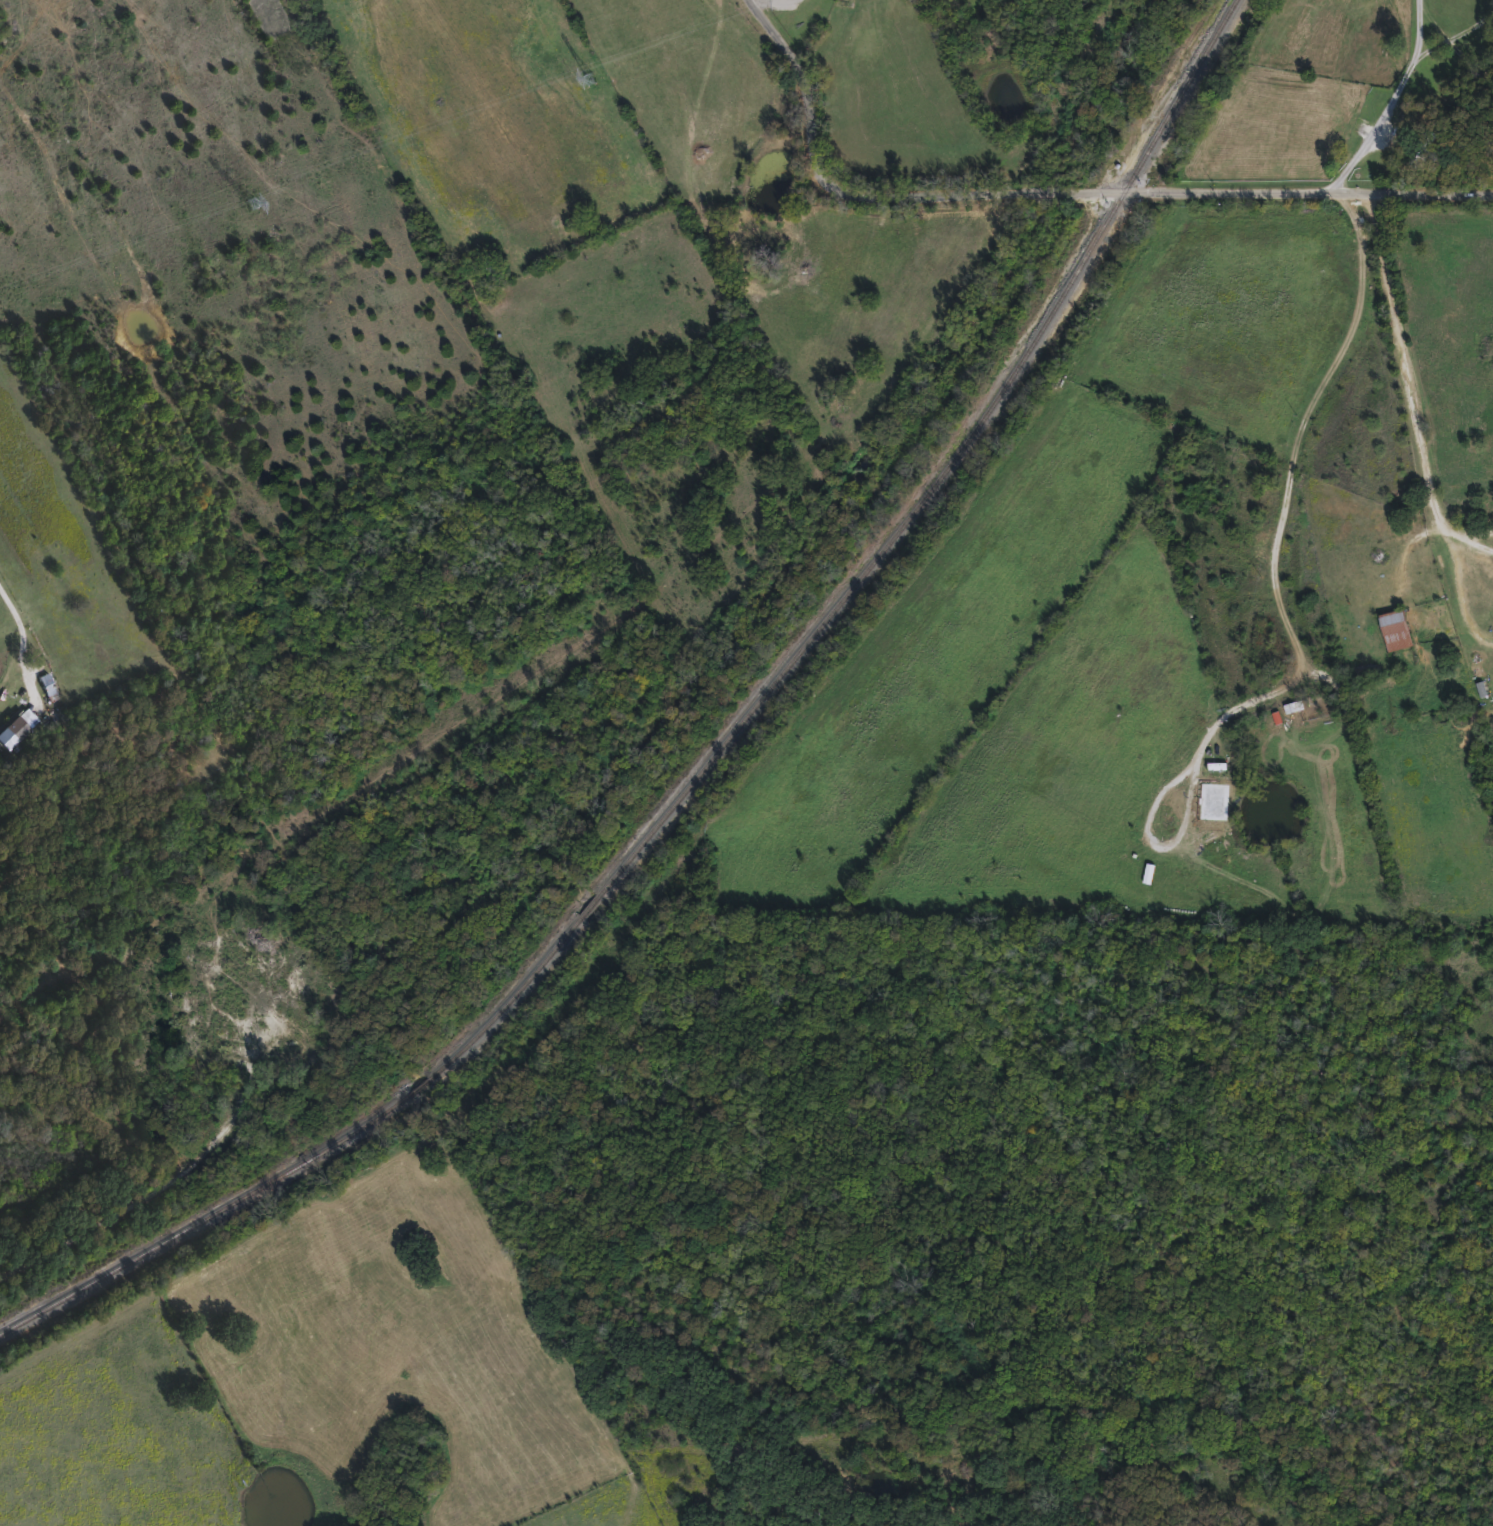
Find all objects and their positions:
road: (785, 0)
road: (1455, 33)
power tower: (589, 78)
road: (811, 90)
road: (1393, 101)
building: (1420, 147)
road: (1167, 192)
power tower: (250, 203)
road: (832, 207)
road: (1406, 362)
railway: (1016, 369)
building: (1268, 496)
road: (1486, 536)
road: (1454, 569)
road: (1282, 600)
building: (1395, 628)
road: (25, 635)
building: (46, 686)
building: (15, 725)
railway: (674, 800)
railway: (589, 904)
railway: (508, 997)
railway: (419, 1084)
railway: (206, 1215)

